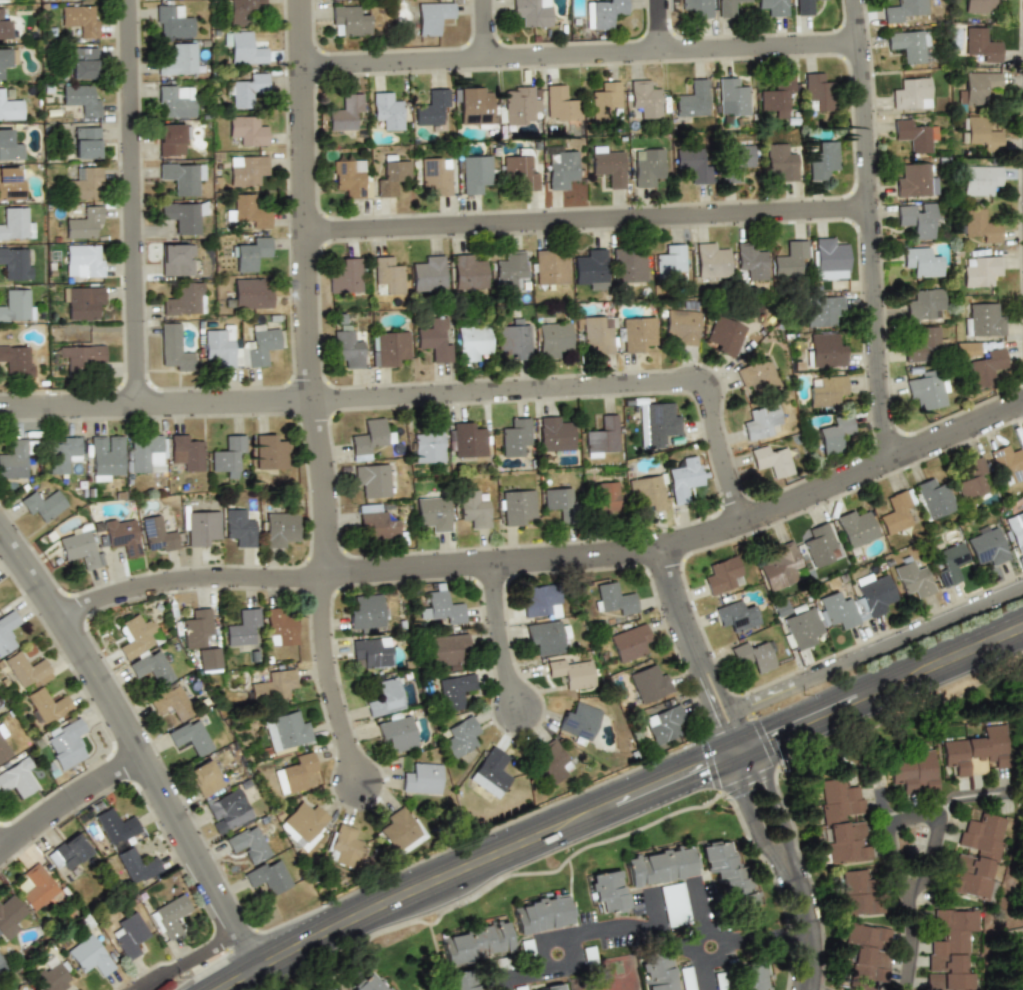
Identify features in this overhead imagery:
building: (978, 5)
building: (806, 6)
building: (697, 7)
building: (773, 7)
building: (242, 10)
building: (902, 10)
building: (722, 11)
building: (532, 12)
building: (604, 13)
building: (431, 17)
building: (79, 19)
building: (171, 20)
building: (349, 20)
building: (4, 27)
road: (662, 31)
road: (489, 35)
building: (910, 46)
building: (978, 46)
building: (244, 48)
building: (178, 58)
building: (7, 61)
building: (83, 62)
road: (586, 65)
building: (975, 87)
building: (246, 90)
building: (816, 91)
building: (911, 93)
building: (777, 96)
building: (732, 97)
building: (81, 98)
building: (644, 98)
building: (692, 99)
building: (606, 100)
building: (175, 101)
building: (561, 102)
building: (520, 104)
building: (10, 106)
building: (431, 107)
building: (474, 107)
building: (386, 110)
building: (344, 111)
building: (246, 130)
building: (979, 132)
building: (912, 135)
building: (172, 138)
building: (86, 142)
building: (10, 146)
building: (821, 160)
building: (734, 161)
building: (780, 161)
building: (692, 163)
building: (607, 166)
building: (559, 167)
building: (648, 167)
building: (247, 171)
building: (519, 171)
building: (474, 173)
building: (389, 174)
building: (434, 174)
building: (181, 177)
building: (349, 178)
building: (915, 180)
building: (979, 180)
building: (12, 183)
building: (84, 184)
road: (139, 207)
building: (248, 211)
building: (181, 216)
building: (916, 220)
building: (15, 223)
building: (83, 223)
building: (979, 225)
road: (593, 230)
road: (874, 234)
building: (250, 254)
building: (829, 257)
building: (788, 258)
building: (176, 259)
building: (671, 260)
building: (750, 260)
building: (84, 261)
building: (709, 261)
building: (921, 262)
building: (15, 264)
building: (626, 265)
building: (550, 267)
building: (510, 268)
building: (591, 269)
building: (979, 270)
building: (467, 272)
building: (428, 273)
building: (388, 275)
building: (345, 277)
building: (250, 294)
building: (182, 299)
building: (83, 302)
building: (924, 304)
building: (16, 305)
building: (823, 311)
building: (981, 320)
building: (681, 326)
building: (596, 332)
building: (636, 334)
building: (724, 335)
building: (552, 338)
building: (433, 339)
building: (513, 339)
building: (471, 342)
building: (922, 344)
building: (221, 345)
building: (261, 345)
building: (172, 348)
building: (348, 348)
building: (388, 349)
building: (823, 351)
building: (82, 354)
building: (239, 357)
building: (16, 360)
building: (980, 362)
building: (755, 377)
building: (925, 389)
building: (824, 390)
road: (317, 398)
road: (429, 404)
building: (761, 422)
building: (656, 424)
building: (834, 433)
building: (553, 434)
building: (601, 435)
building: (514, 437)
building: (369, 438)
building: (467, 440)
building: (428, 443)
building: (186, 452)
building: (269, 452)
building: (147, 453)
building: (64, 454)
building: (229, 454)
building: (105, 456)
building: (13, 459)
building: (771, 460)
building: (1007, 464)
building: (685, 475)
building: (372, 479)
building: (971, 479)
road: (846, 490)
building: (648, 491)
building: (557, 498)
building: (606, 498)
building: (933, 498)
building: (45, 506)
building: (516, 506)
building: (473, 509)
building: (896, 511)
building: (433, 512)
building: (376, 522)
building: (201, 527)
building: (239, 527)
building: (279, 528)
building: (855, 528)
building: (1015, 529)
building: (158, 534)
building: (121, 535)
building: (985, 544)
building: (820, 545)
building: (80, 547)
building: (950, 564)
building: (780, 567)
building: (721, 575)
building: (913, 578)
road: (363, 583)
building: (875, 595)
building: (615, 597)
building: (541, 602)
road: (678, 602)
building: (443, 606)
building: (837, 610)
building: (367, 613)
building: (735, 616)
building: (241, 626)
building: (802, 627)
building: (197, 628)
building: (279, 628)
building: (8, 631)
building: (135, 636)
building: (546, 636)
building: (628, 642)
road: (504, 645)
road: (878, 647)
road: (936, 648)
building: (446, 649)
building: (370, 653)
building: (753, 656)
building: (208, 659)
building: (151, 667)
building: (25, 669)
building: (571, 673)
road: (717, 676)
building: (648, 683)
building: (271, 685)
building: (454, 691)
road: (703, 695)
building: (386, 696)
road: (888, 696)
building: (171, 702)
building: (46, 705)
road: (796, 708)
road: (738, 720)
building: (579, 721)
building: (662, 724)
building: (396, 731)
building: (286, 732)
road: (733, 736)
building: (191, 737)
building: (460, 737)
building: (66, 742)
road: (748, 742)
building: (5, 746)
road: (138, 750)
building: (978, 751)
road: (727, 752)
road: (742, 758)
building: (552, 762)
building: (913, 771)
building: (491, 772)
building: (295, 773)
building: (18, 778)
building: (205, 778)
building: (421, 778)
road: (777, 808)
road: (70, 810)
building: (226, 811)
road: (752, 819)
building: (842, 819)
road: (935, 820)
building: (303, 824)
building: (115, 825)
building: (400, 831)
building: (248, 844)
building: (342, 846)
building: (68, 851)
building: (978, 855)
road: (2, 857)
road: (454, 857)
building: (136, 865)
building: (659, 865)
road: (482, 871)
building: (728, 874)
building: (268, 876)
building: (36, 886)
building: (607, 892)
building: (858, 892)
building: (673, 905)
building: (541, 914)
road: (684, 914)
building: (169, 915)
building: (9, 916)
road: (809, 926)
building: (129, 935)
road: (646, 935)
road: (908, 938)
building: (474, 942)
building: (949, 950)
building: (1016, 950)
building: (866, 954)
building: (89, 955)
road: (183, 960)
building: (2, 965)
road: (712, 966)
building: (657, 971)
building: (52, 974)
building: (749, 977)
building: (686, 978)
building: (461, 980)
building: (370, 983)
building: (329, 988)
building: (553, 988)
building: (12, 989)

